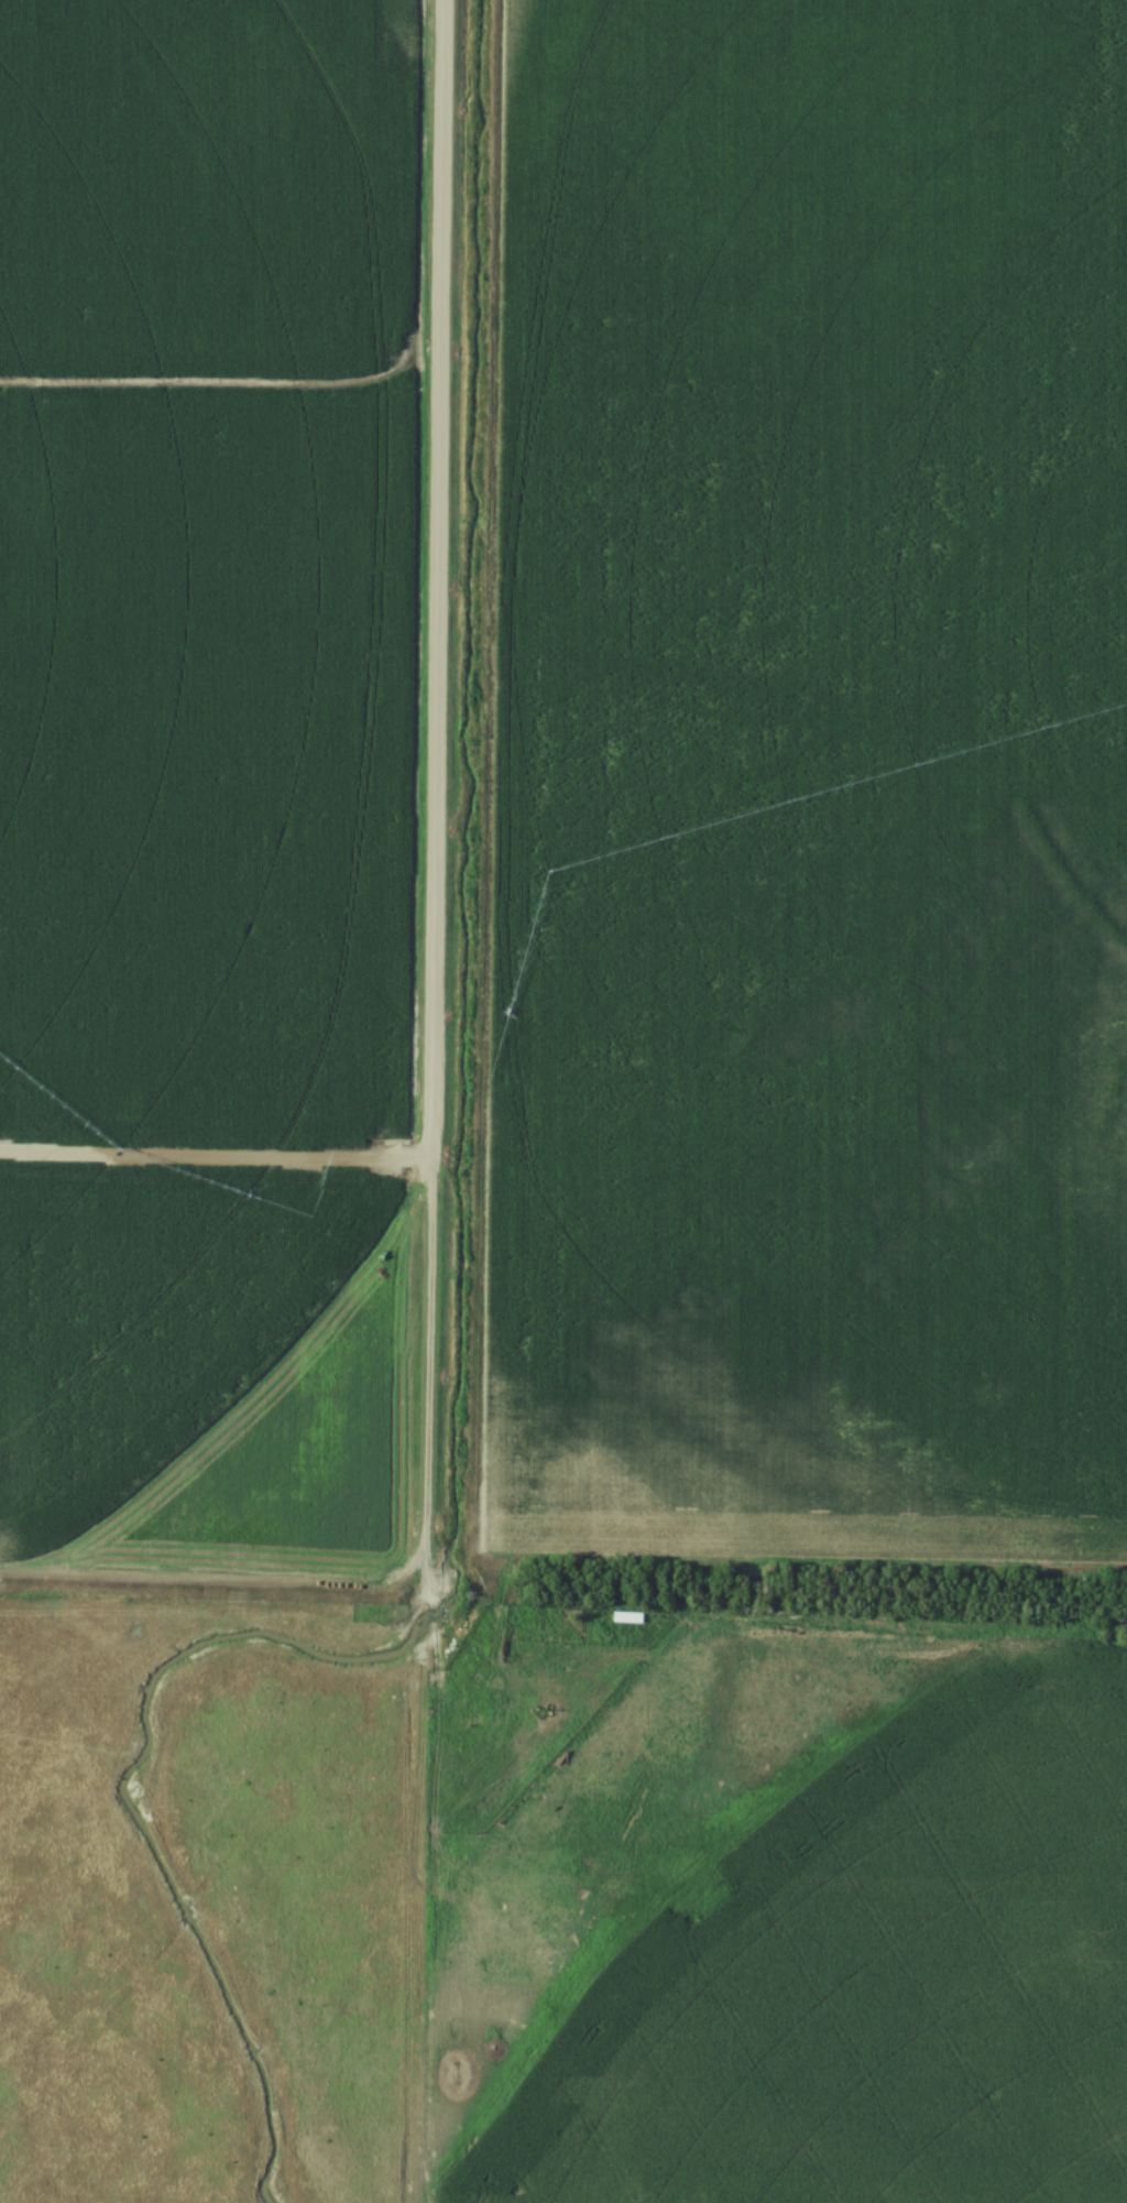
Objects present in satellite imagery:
road: (433, 581)
road: (203, 1158)
building: (511, 1577)

